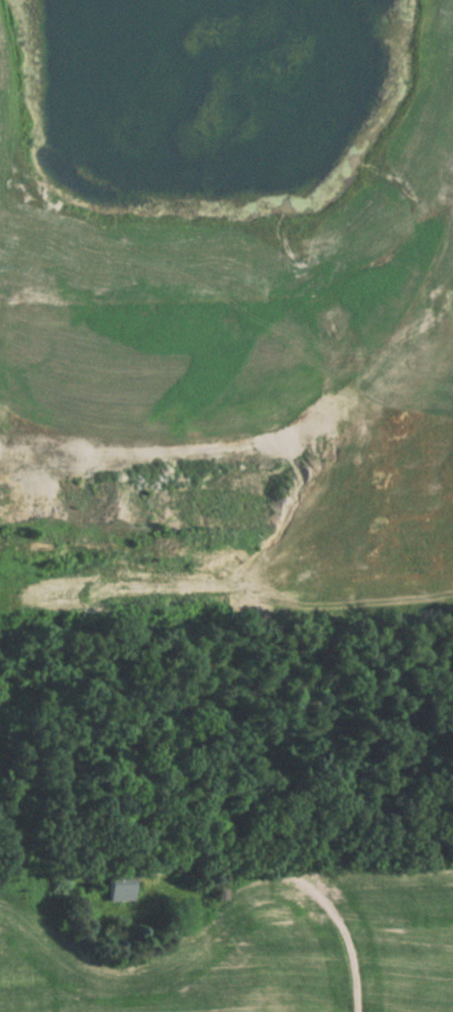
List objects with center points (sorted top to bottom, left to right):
quarry: (224, 314)
road: (297, 878)
building: (120, 887)

